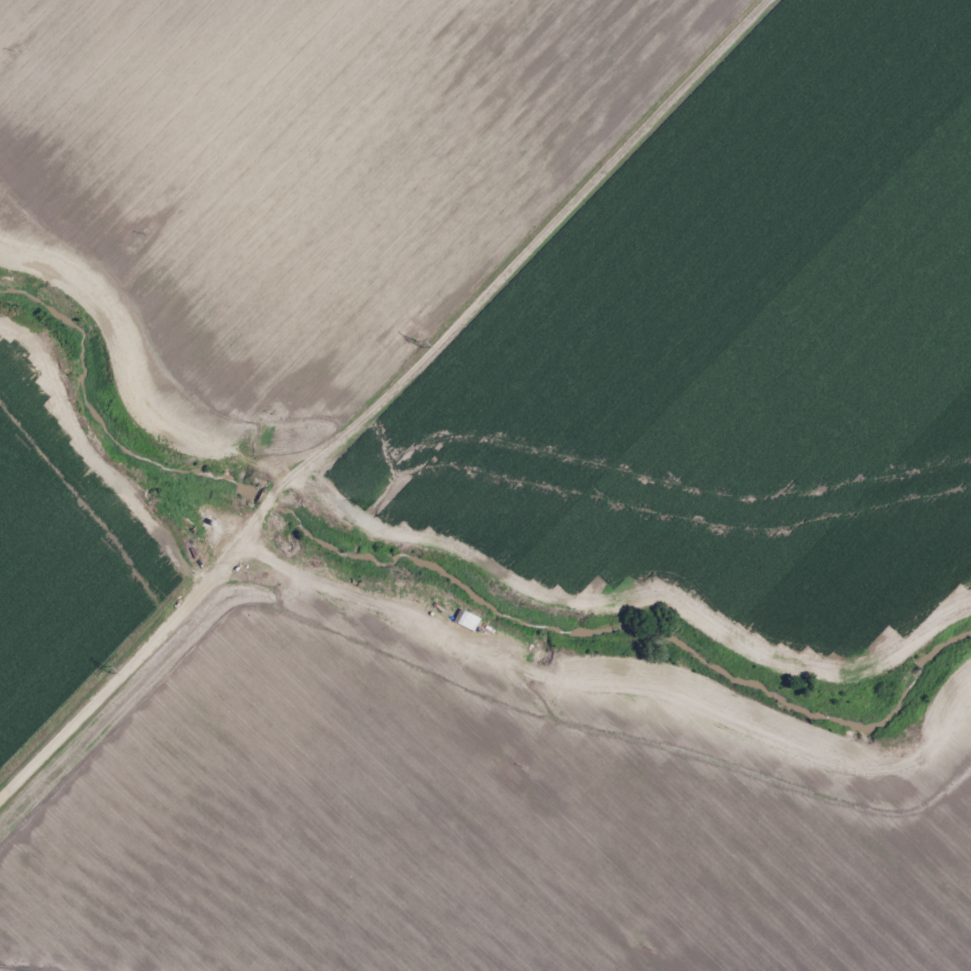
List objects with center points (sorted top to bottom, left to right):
power tower: (440, 367)
power tower: (124, 687)

